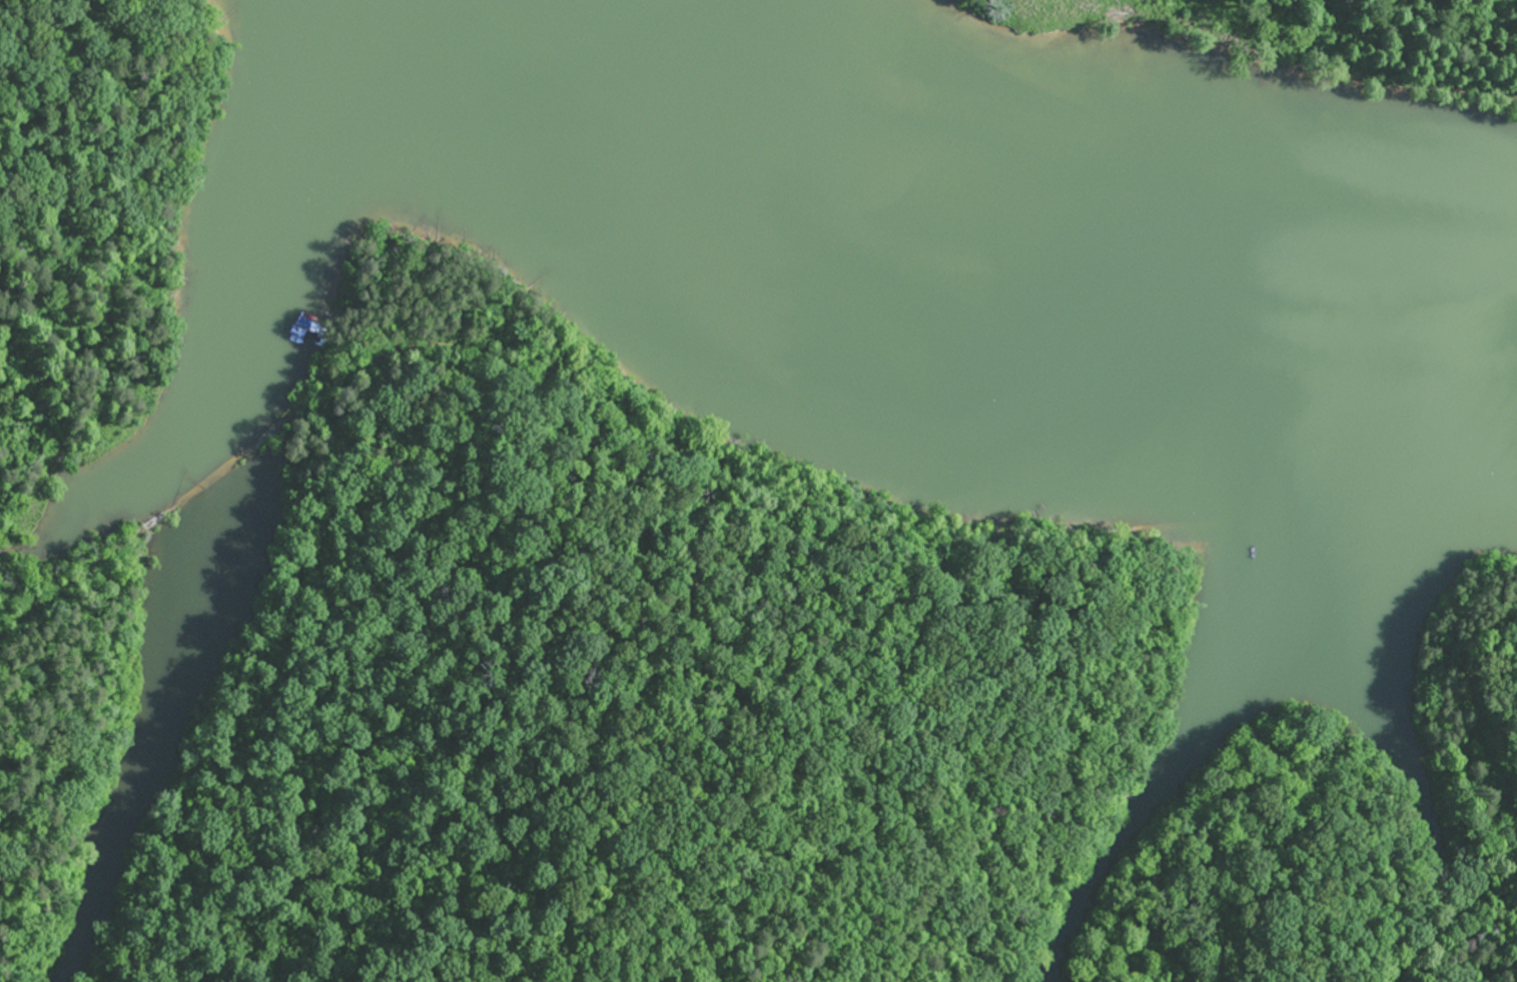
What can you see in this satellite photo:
river: (1045, 214)

